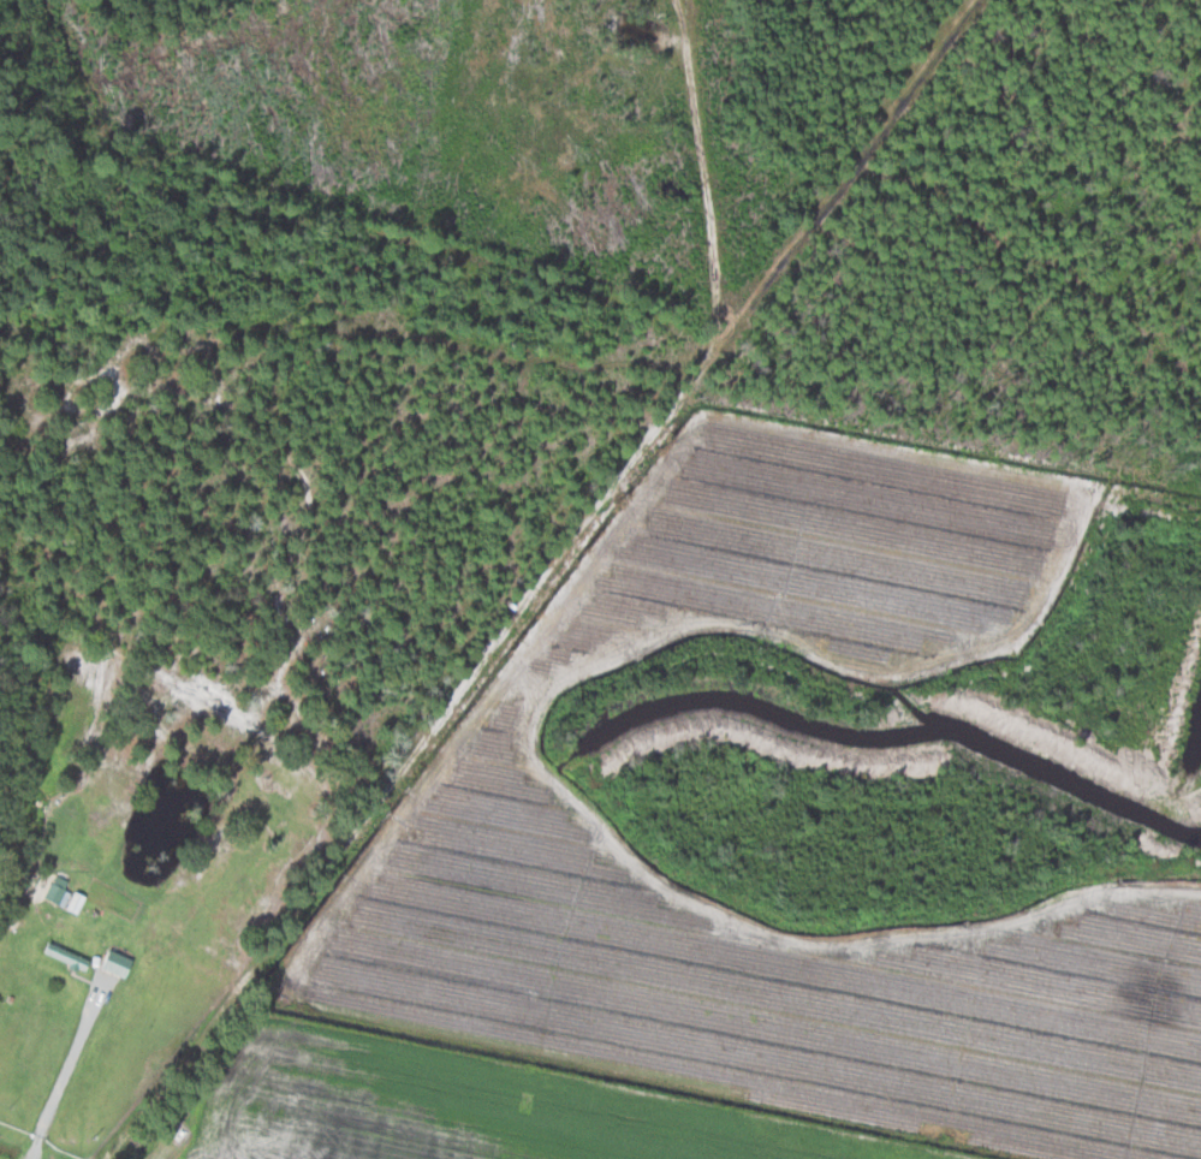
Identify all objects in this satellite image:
building: (70, 955)
building: (119, 962)
road: (66, 1070)

